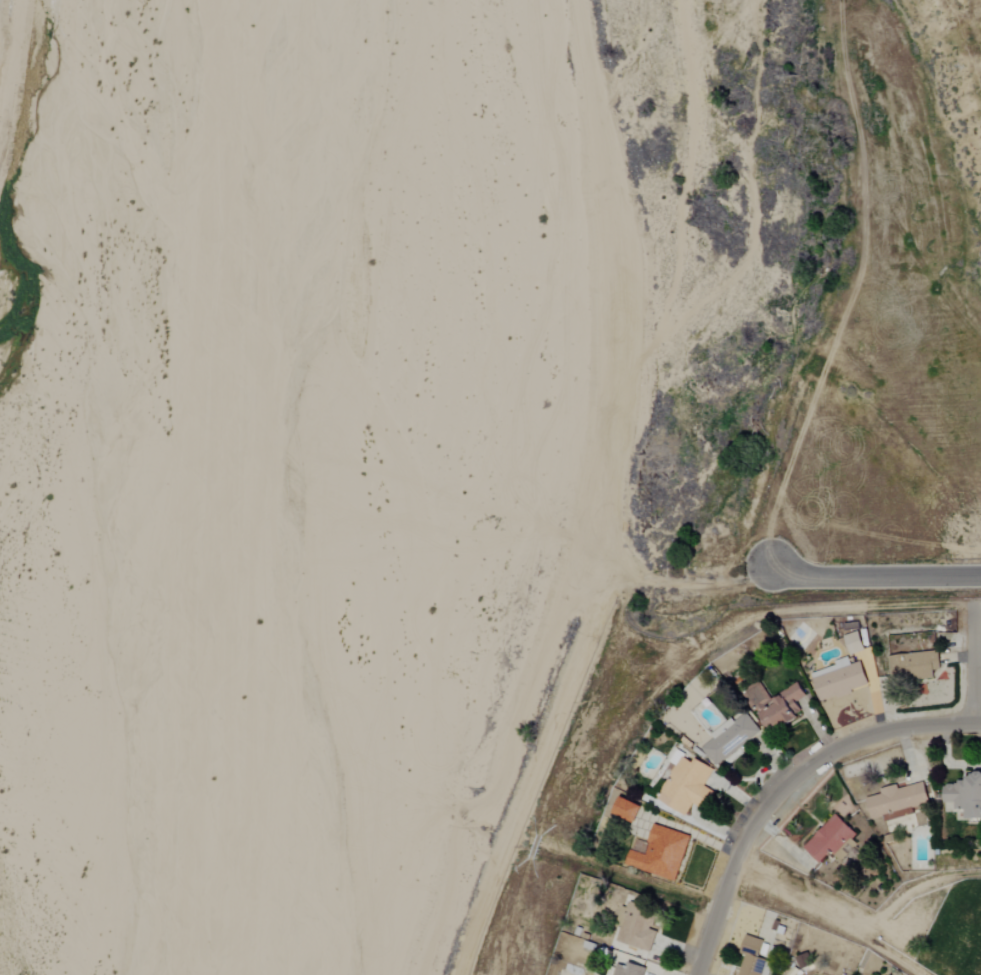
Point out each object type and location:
river: (302, 489)
road: (878, 574)
building: (854, 643)
building: (915, 665)
road: (976, 667)
building: (840, 682)
building: (782, 709)
road: (978, 724)
building: (722, 729)
building: (730, 740)
building: (687, 786)
road: (784, 789)
building: (965, 796)
building: (897, 801)
building: (628, 810)
building: (833, 841)
building: (660, 853)
building: (638, 927)
building: (752, 959)
building: (804, 961)
building: (627, 970)

